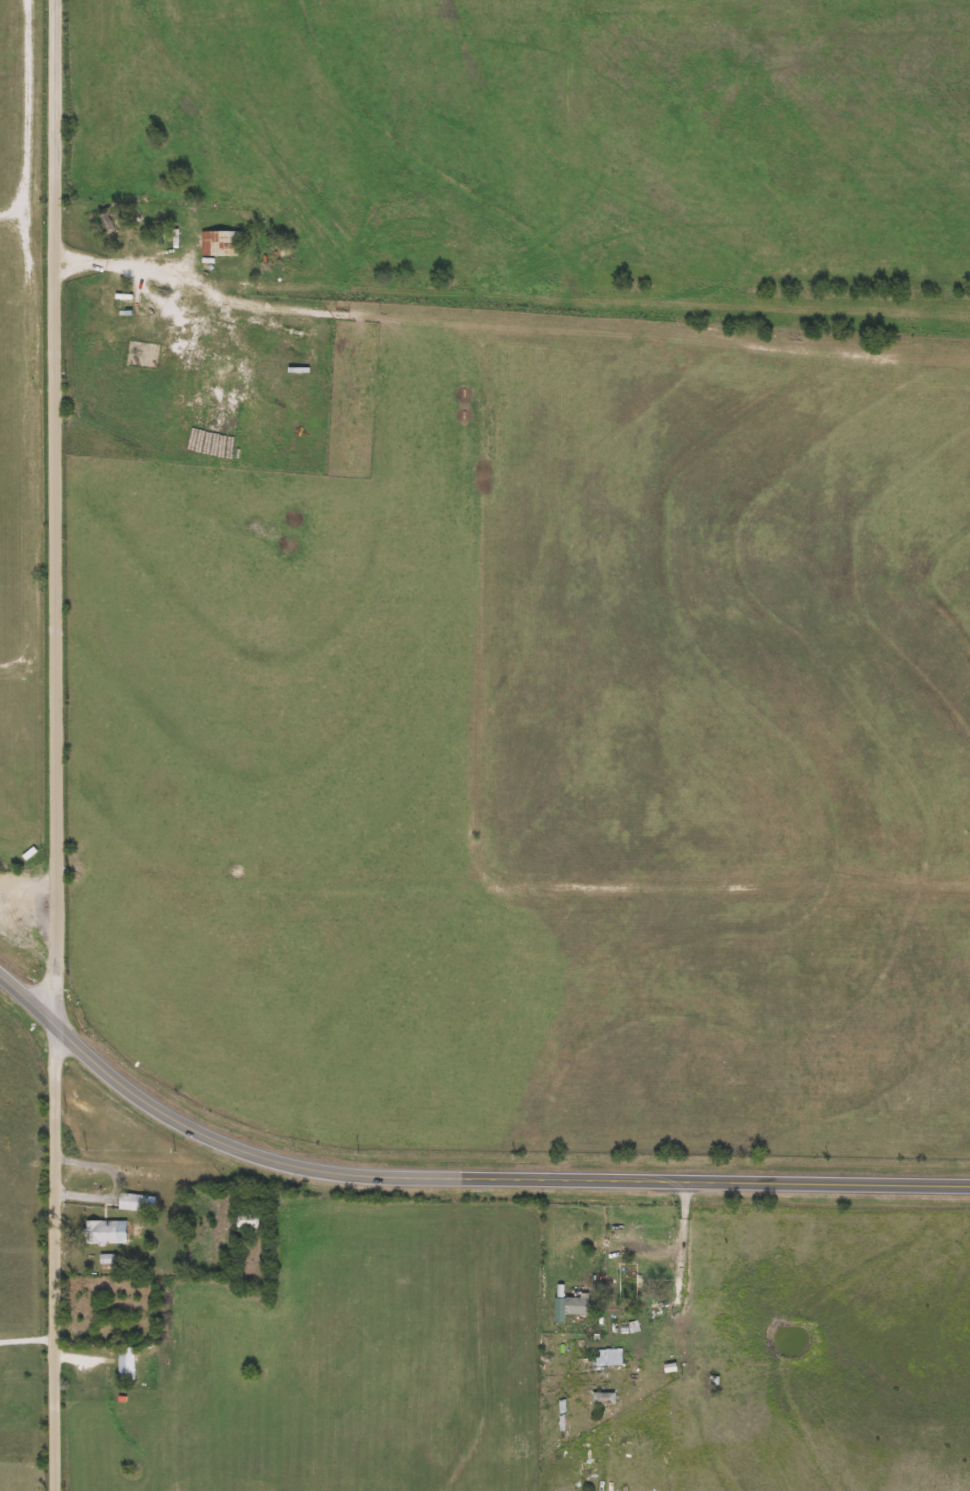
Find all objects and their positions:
building: (222, 244)
road: (59, 745)
road: (28, 1002)
road: (132, 1145)
road: (491, 1181)
building: (137, 1202)
building: (248, 1220)
building: (107, 1232)
road: (683, 1244)
building: (577, 1304)
building: (607, 1354)
building: (127, 1364)
building: (605, 1399)
road: (25, 1468)

